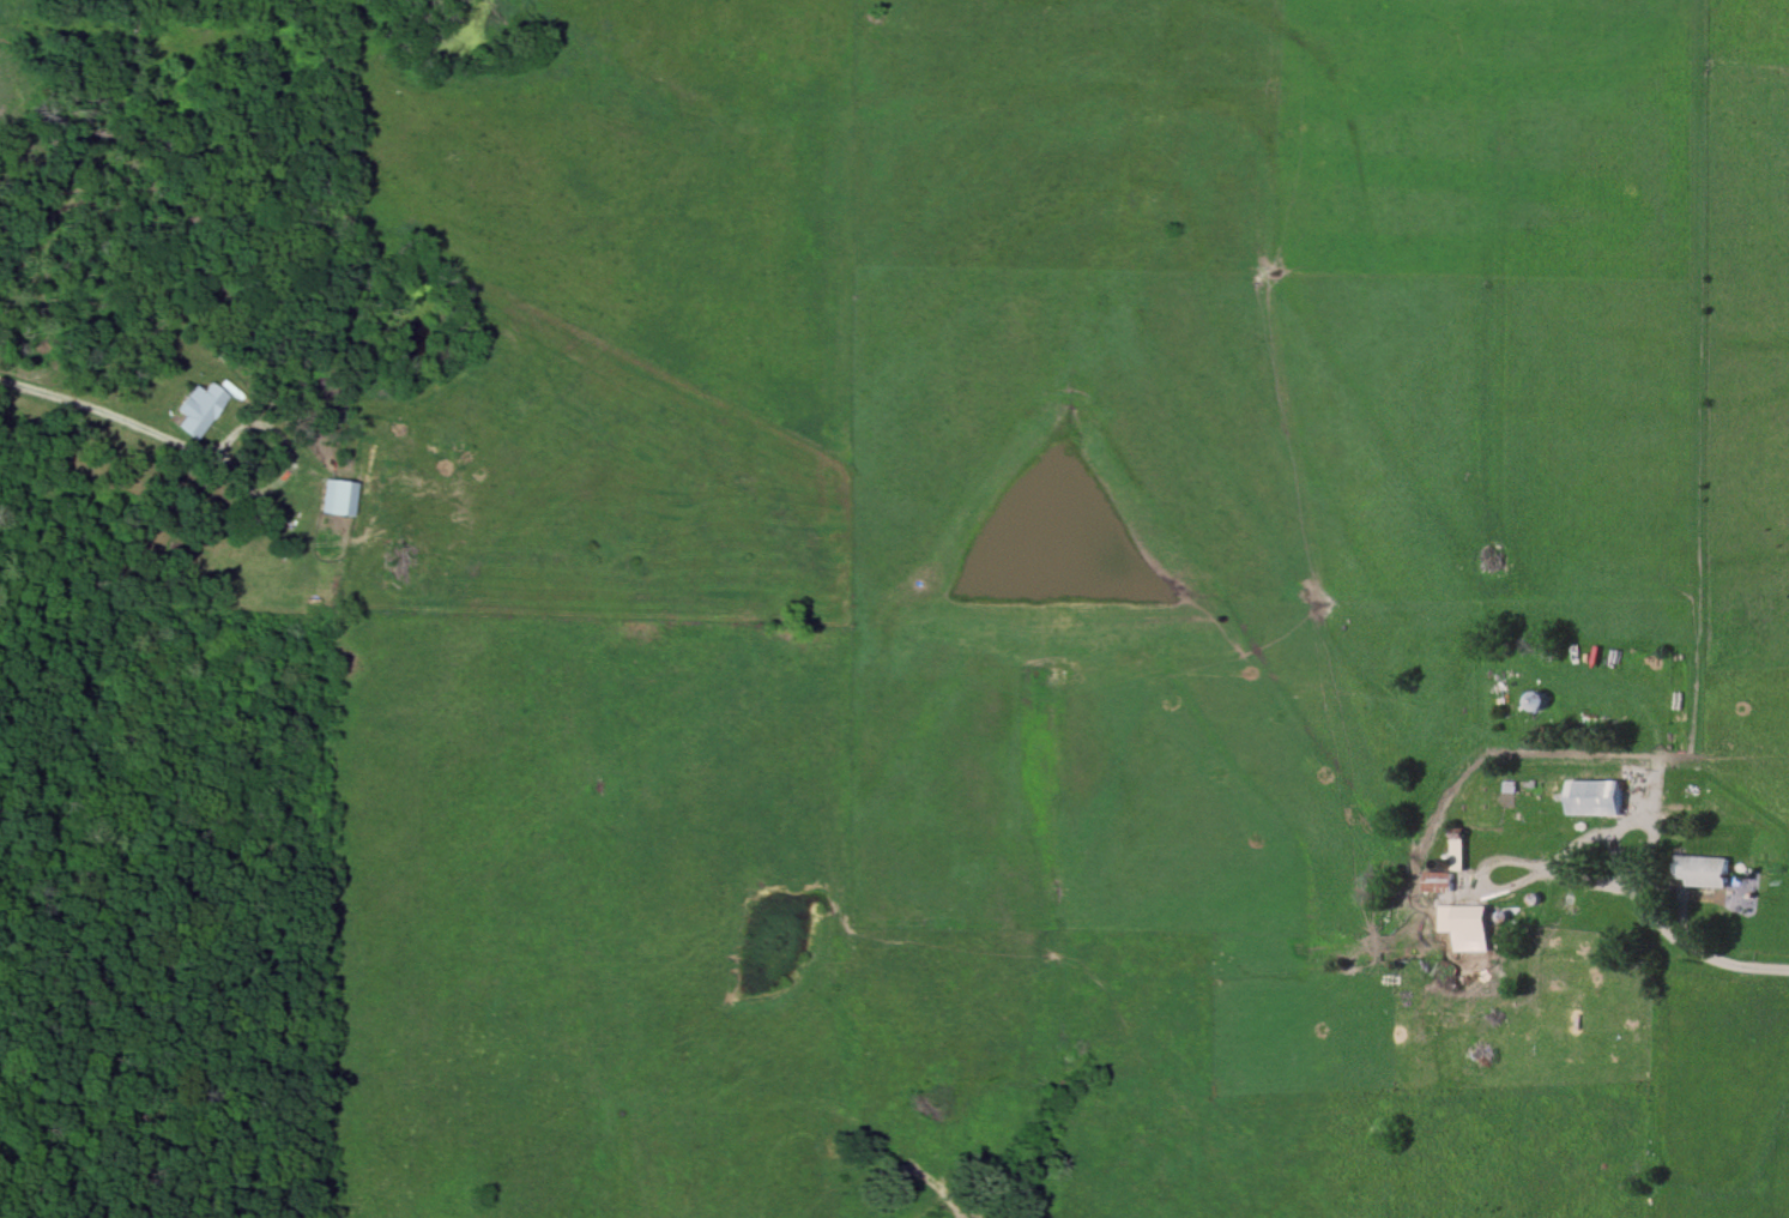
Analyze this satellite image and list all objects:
road: (81, 406)
building: (201, 409)
building: (1591, 801)
building: (1699, 873)
road: (1698, 884)
building: (1465, 931)

